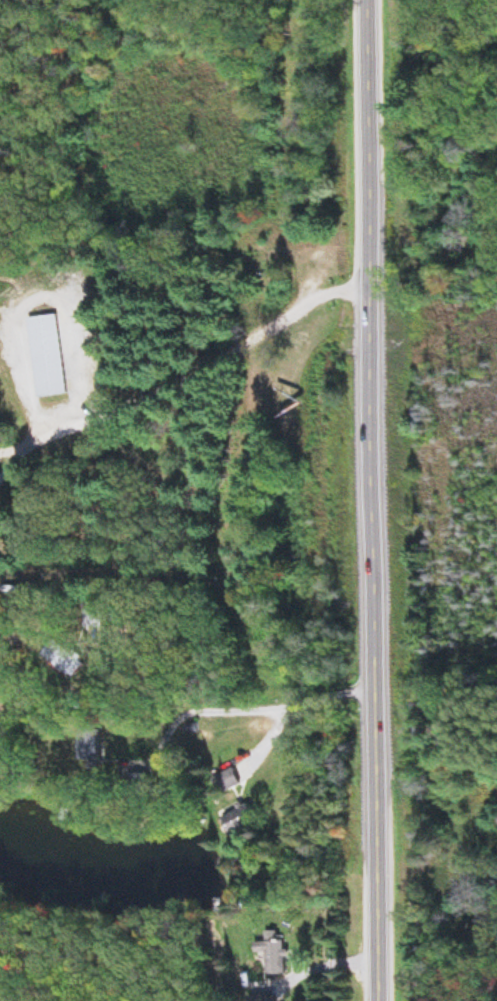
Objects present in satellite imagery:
building: (17, 344)
building: (53, 356)
road: (184, 363)
road: (371, 500)
building: (100, 747)
building: (236, 783)
road: (269, 955)
building: (287, 957)
building: (278, 999)

